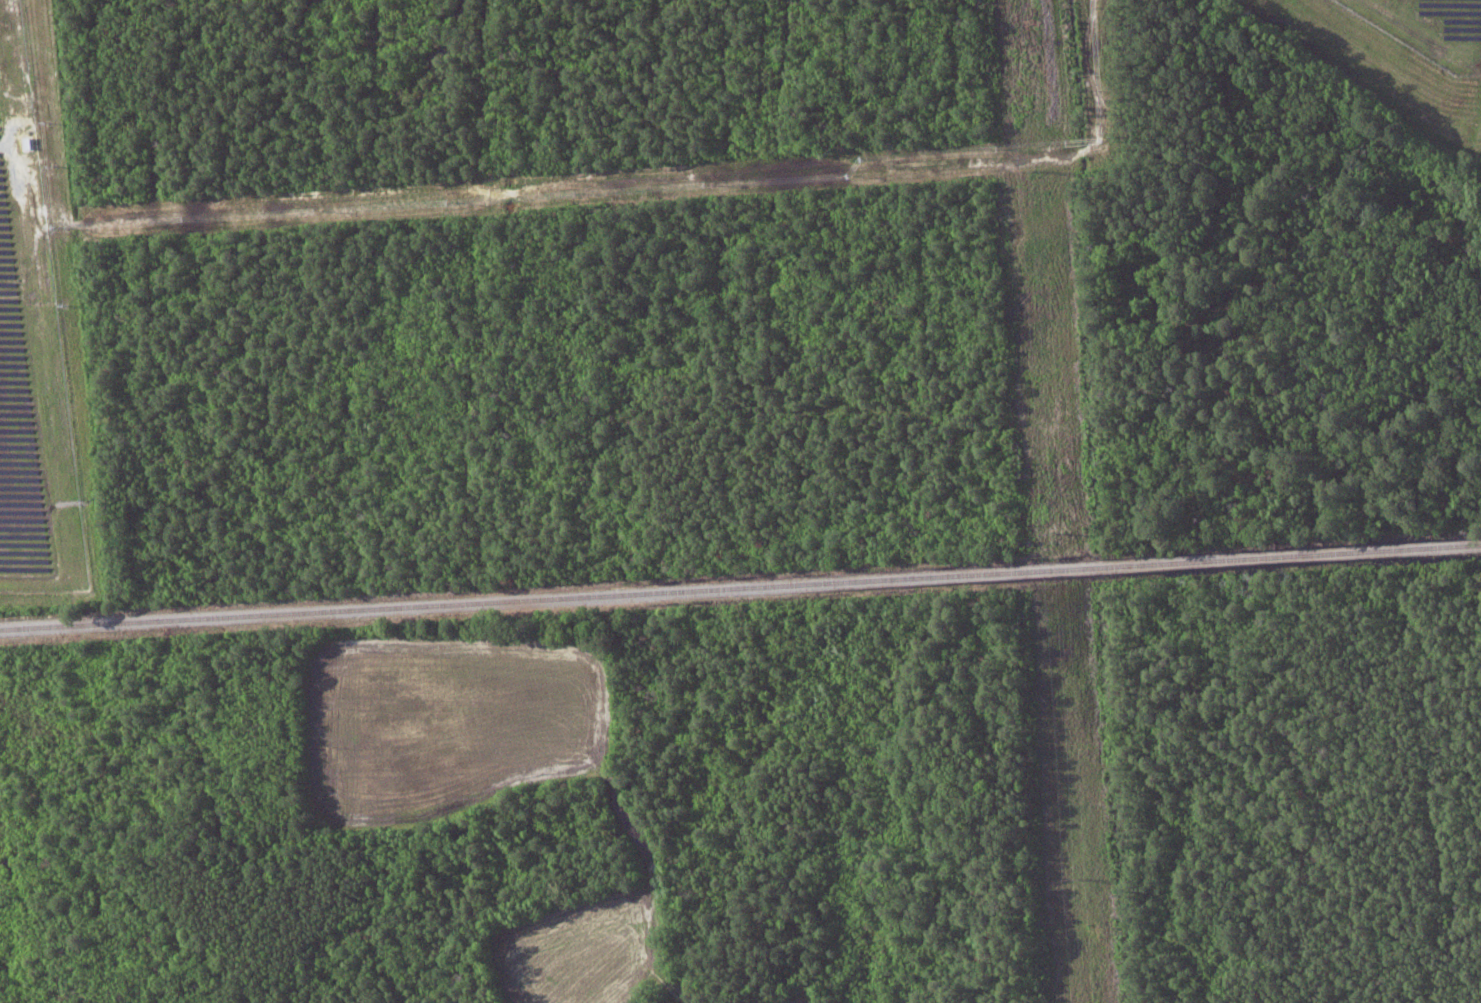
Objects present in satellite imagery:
power tower: (1041, 170)
solar farm: (31, 356)
power tower: (1064, 534)
railway: (740, 587)
power tower: (1084, 878)

